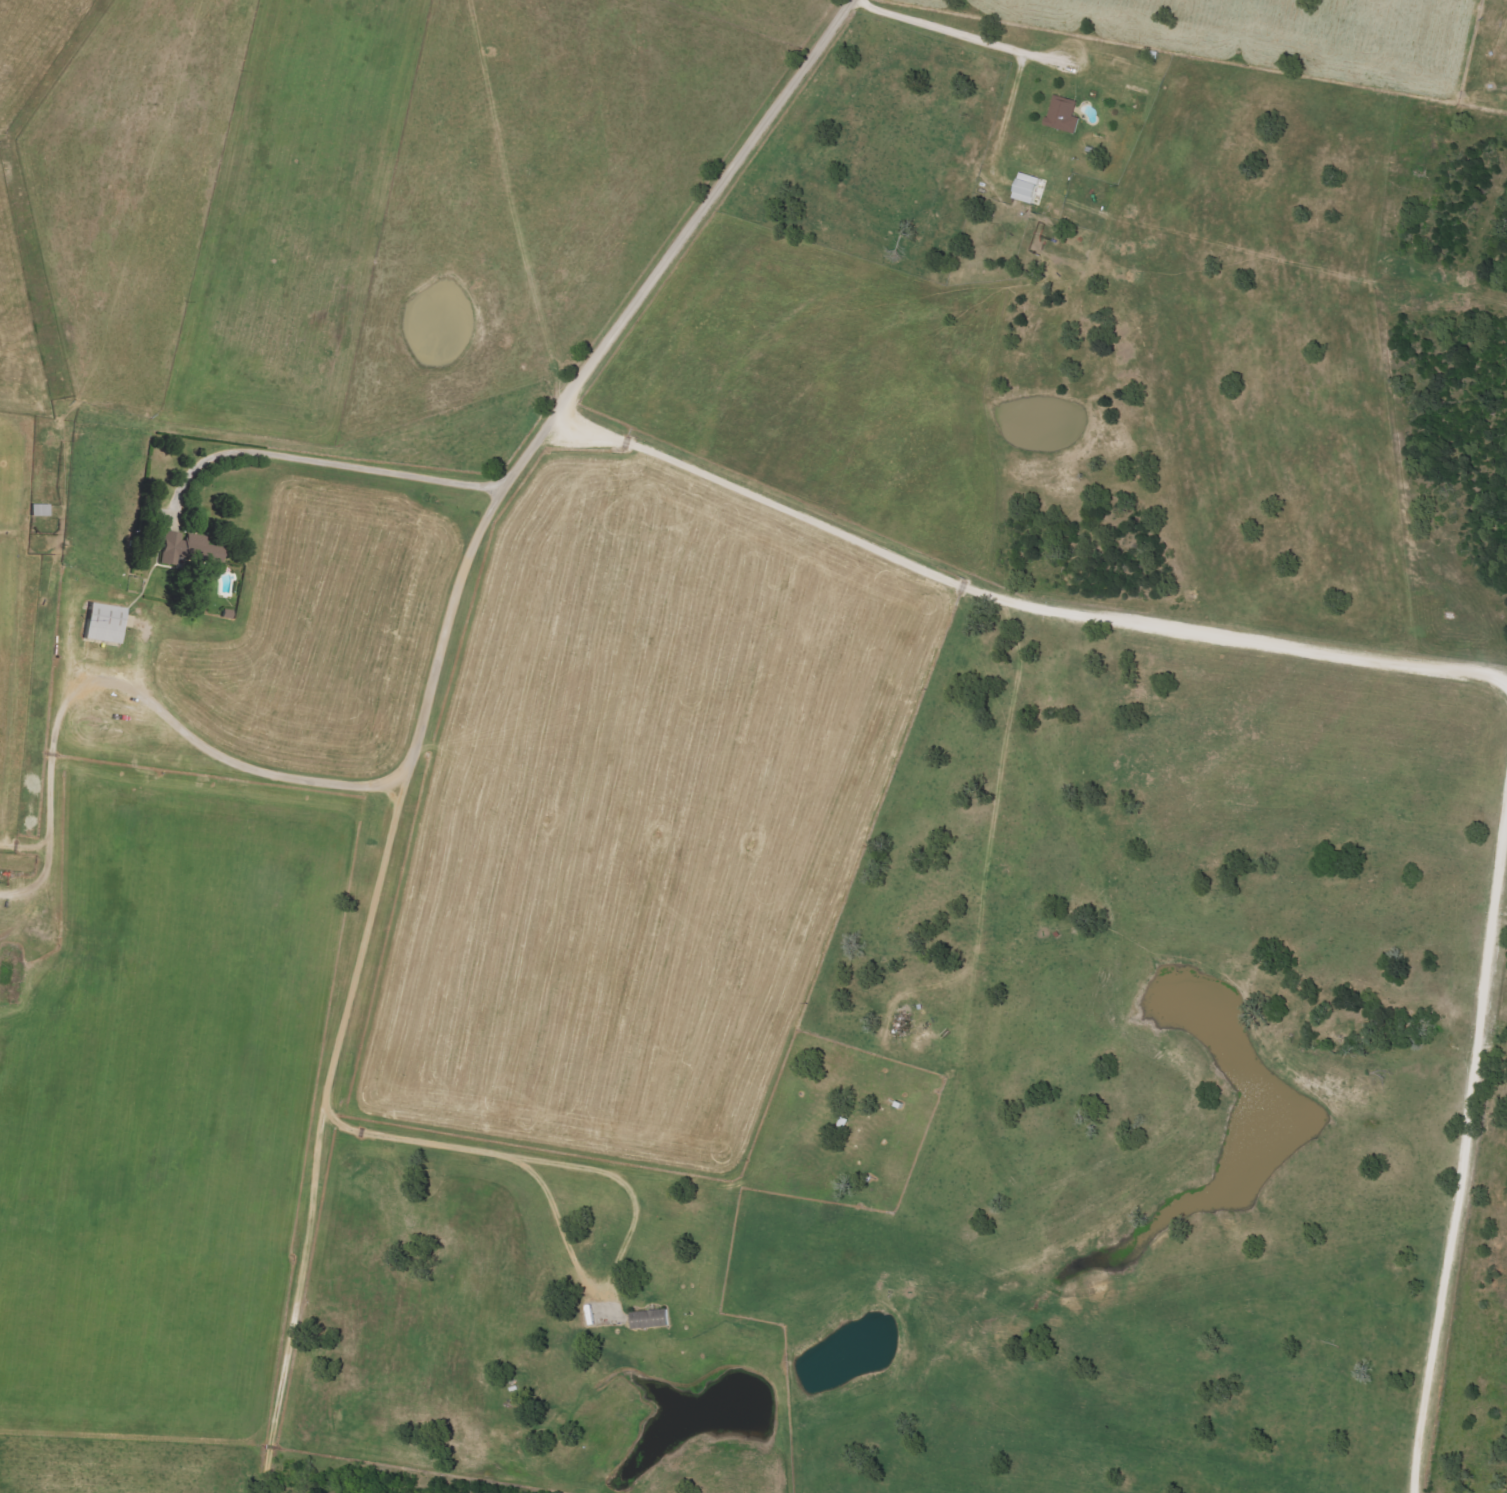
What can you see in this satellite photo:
road: (947, 30)
building: (1061, 114)
building: (1024, 187)
road: (320, 466)
building: (185, 549)
road: (1021, 599)
building: (100, 623)
road: (428, 693)
road: (226, 759)
road: (1456, 1136)
building: (649, 1319)

